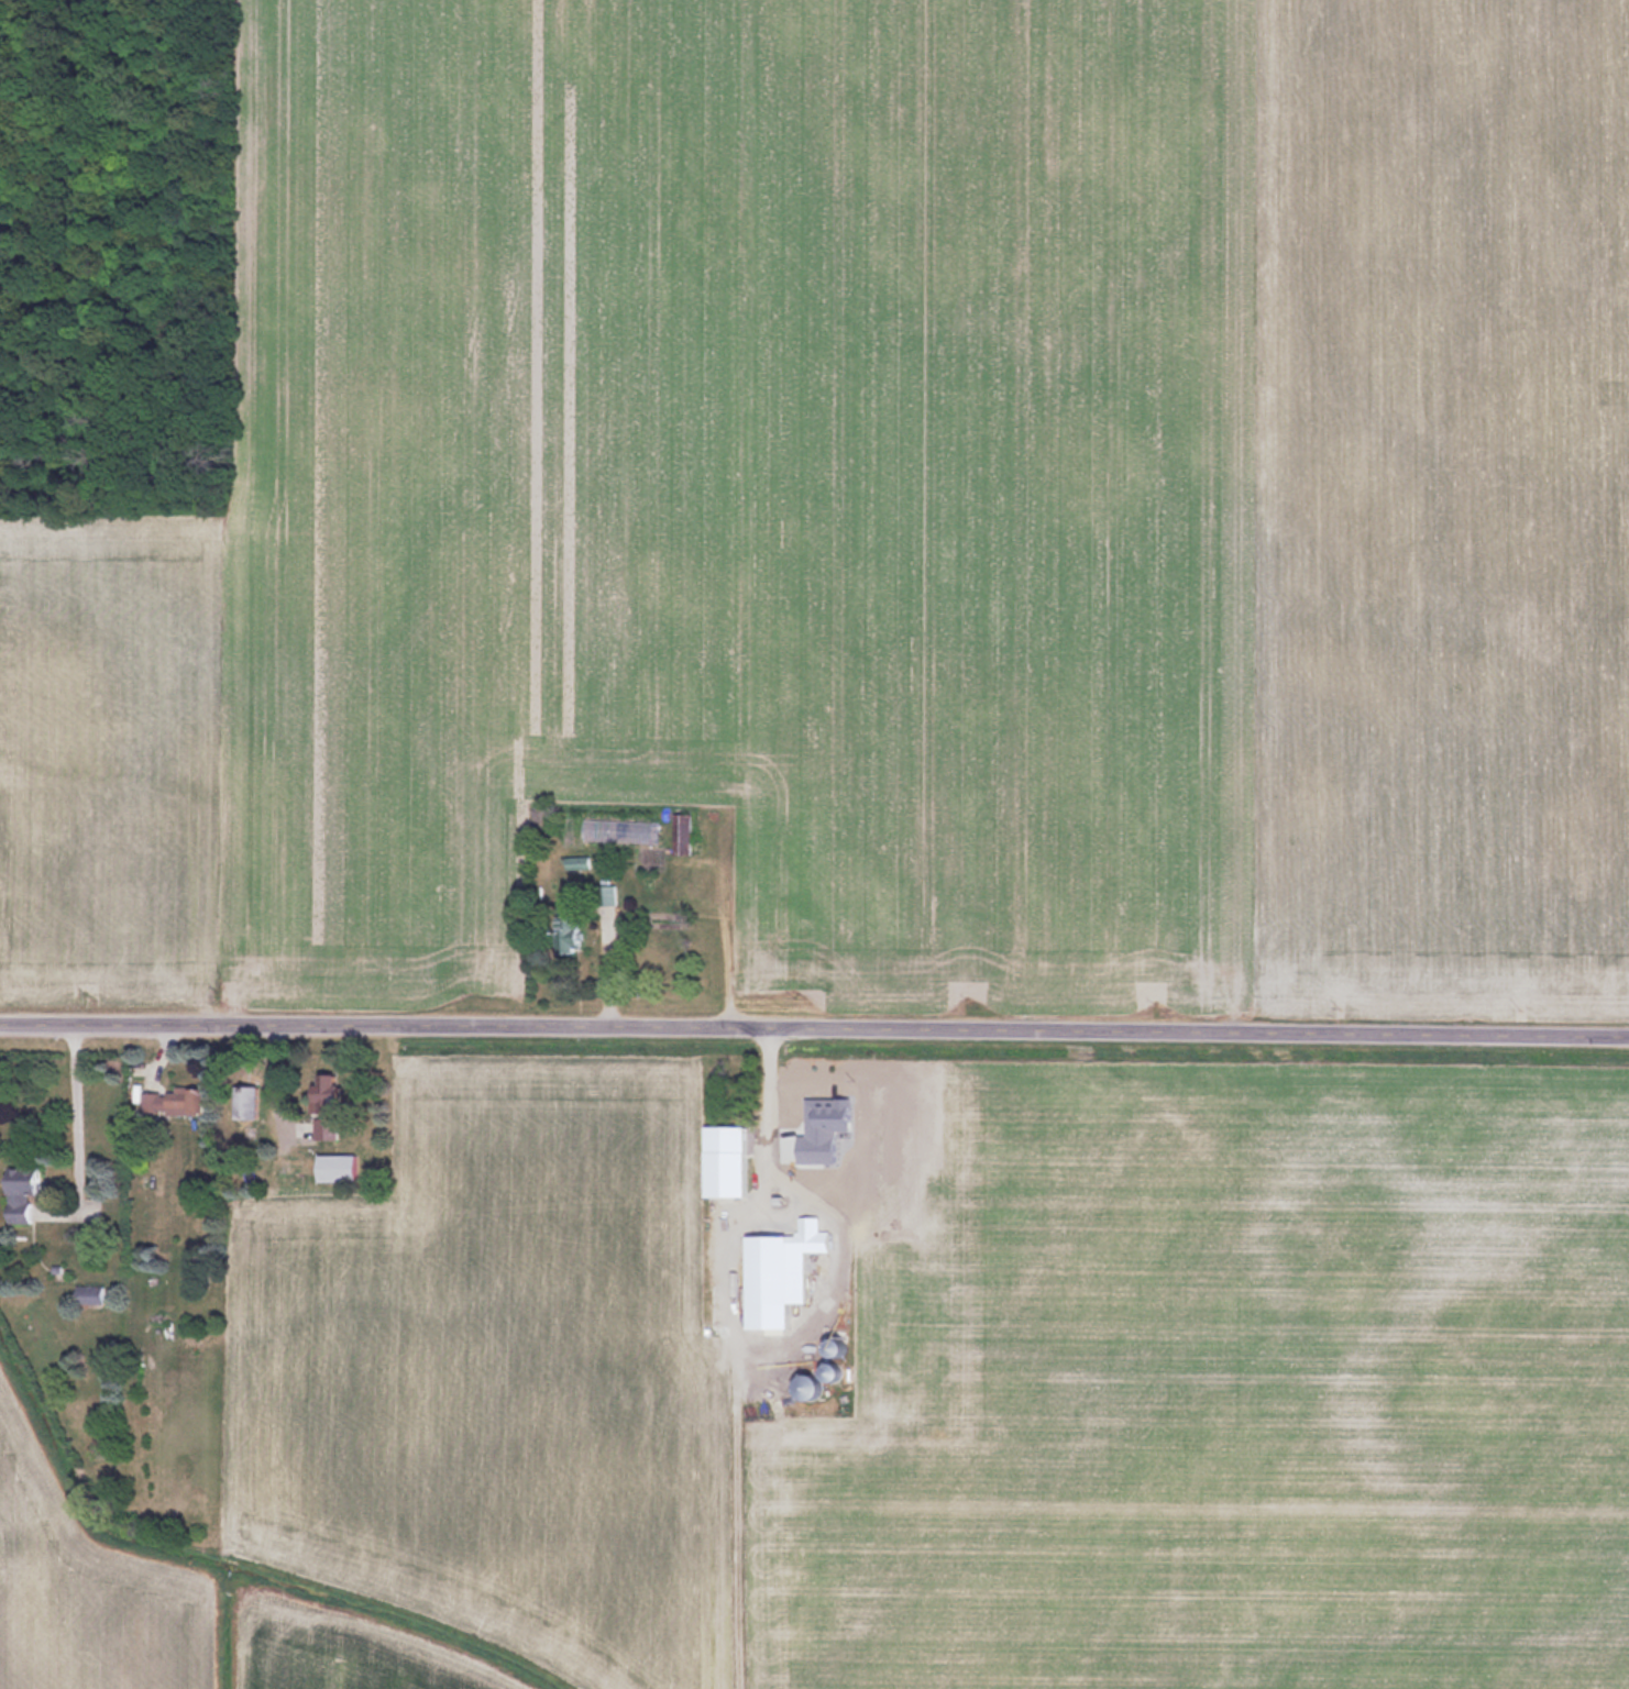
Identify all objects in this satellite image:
building: (685, 835)
building: (581, 863)
building: (575, 934)
road: (814, 1030)
building: (178, 1101)
building: (252, 1103)
building: (331, 1106)
building: (818, 1107)
building: (731, 1168)
road: (764, 1171)
building: (27, 1190)
building: (814, 1235)
building: (773, 1268)
building: (93, 1293)

